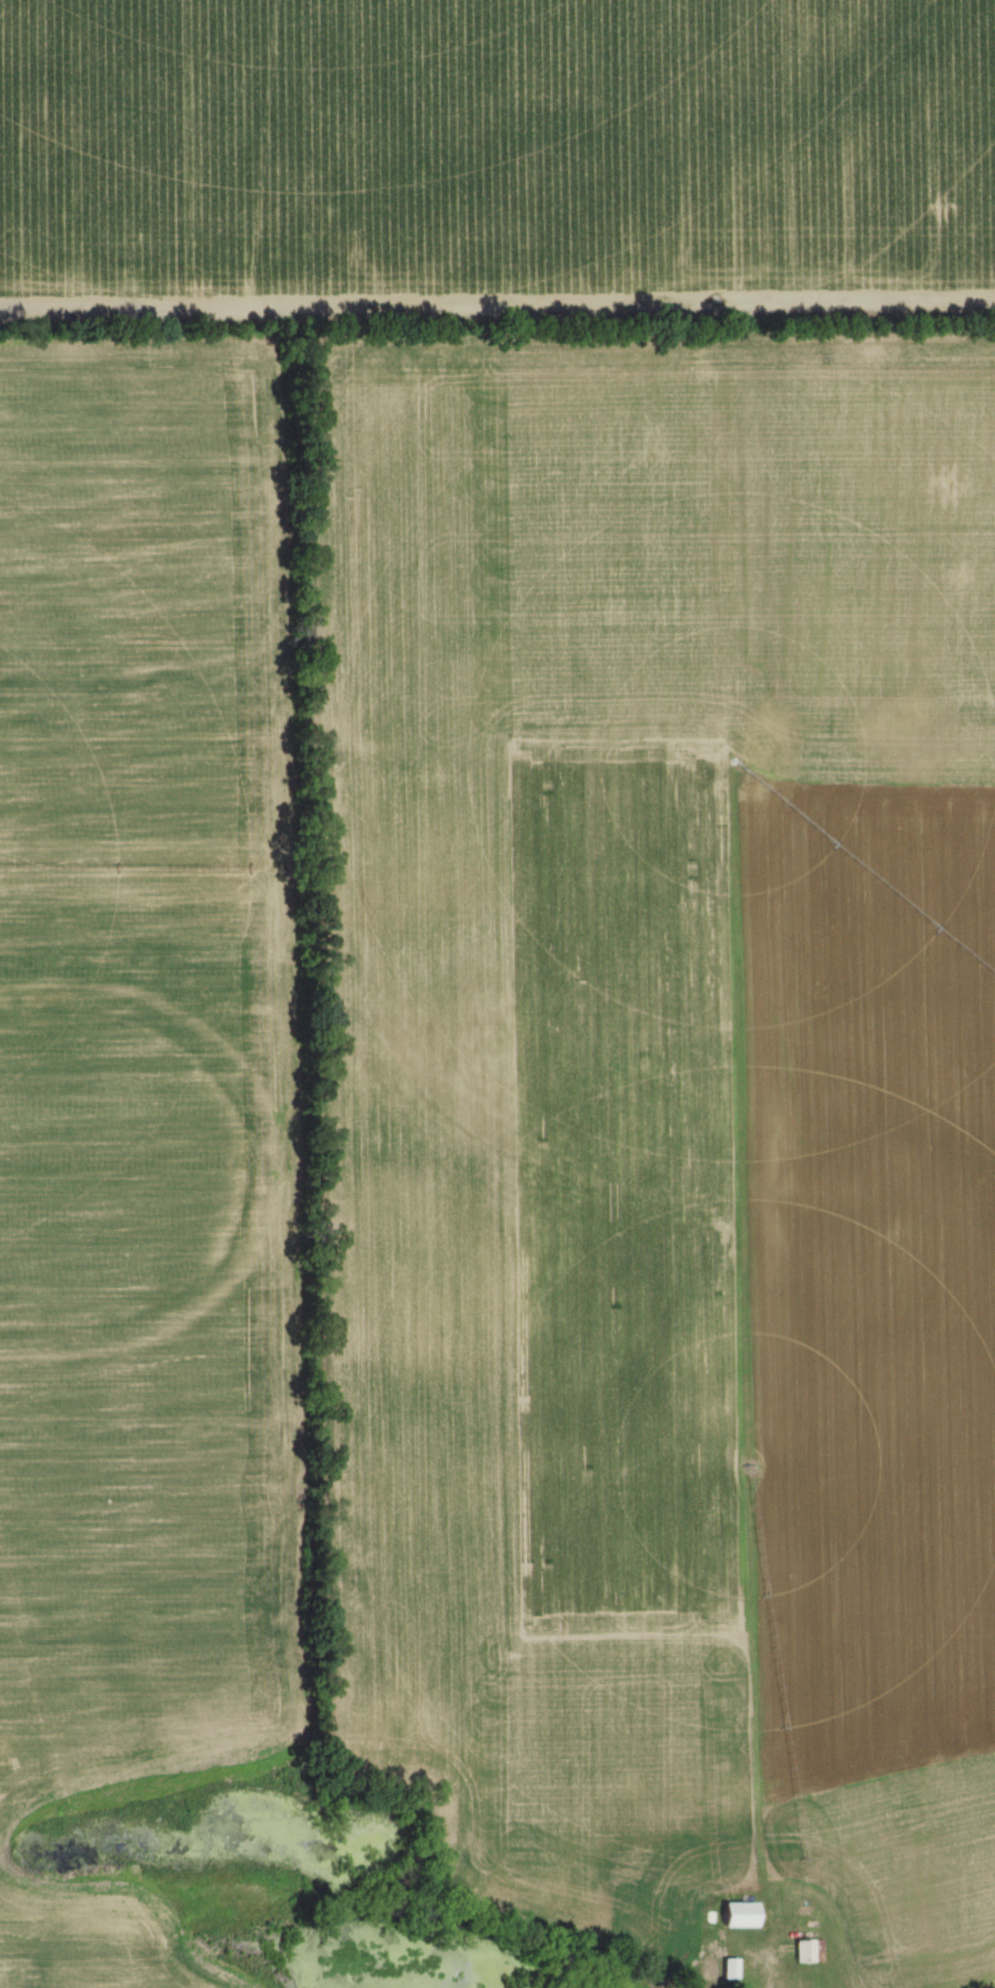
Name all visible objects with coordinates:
crop: (497, 158)
building: (734, 1917)
building: (802, 1952)
building: (726, 1971)

